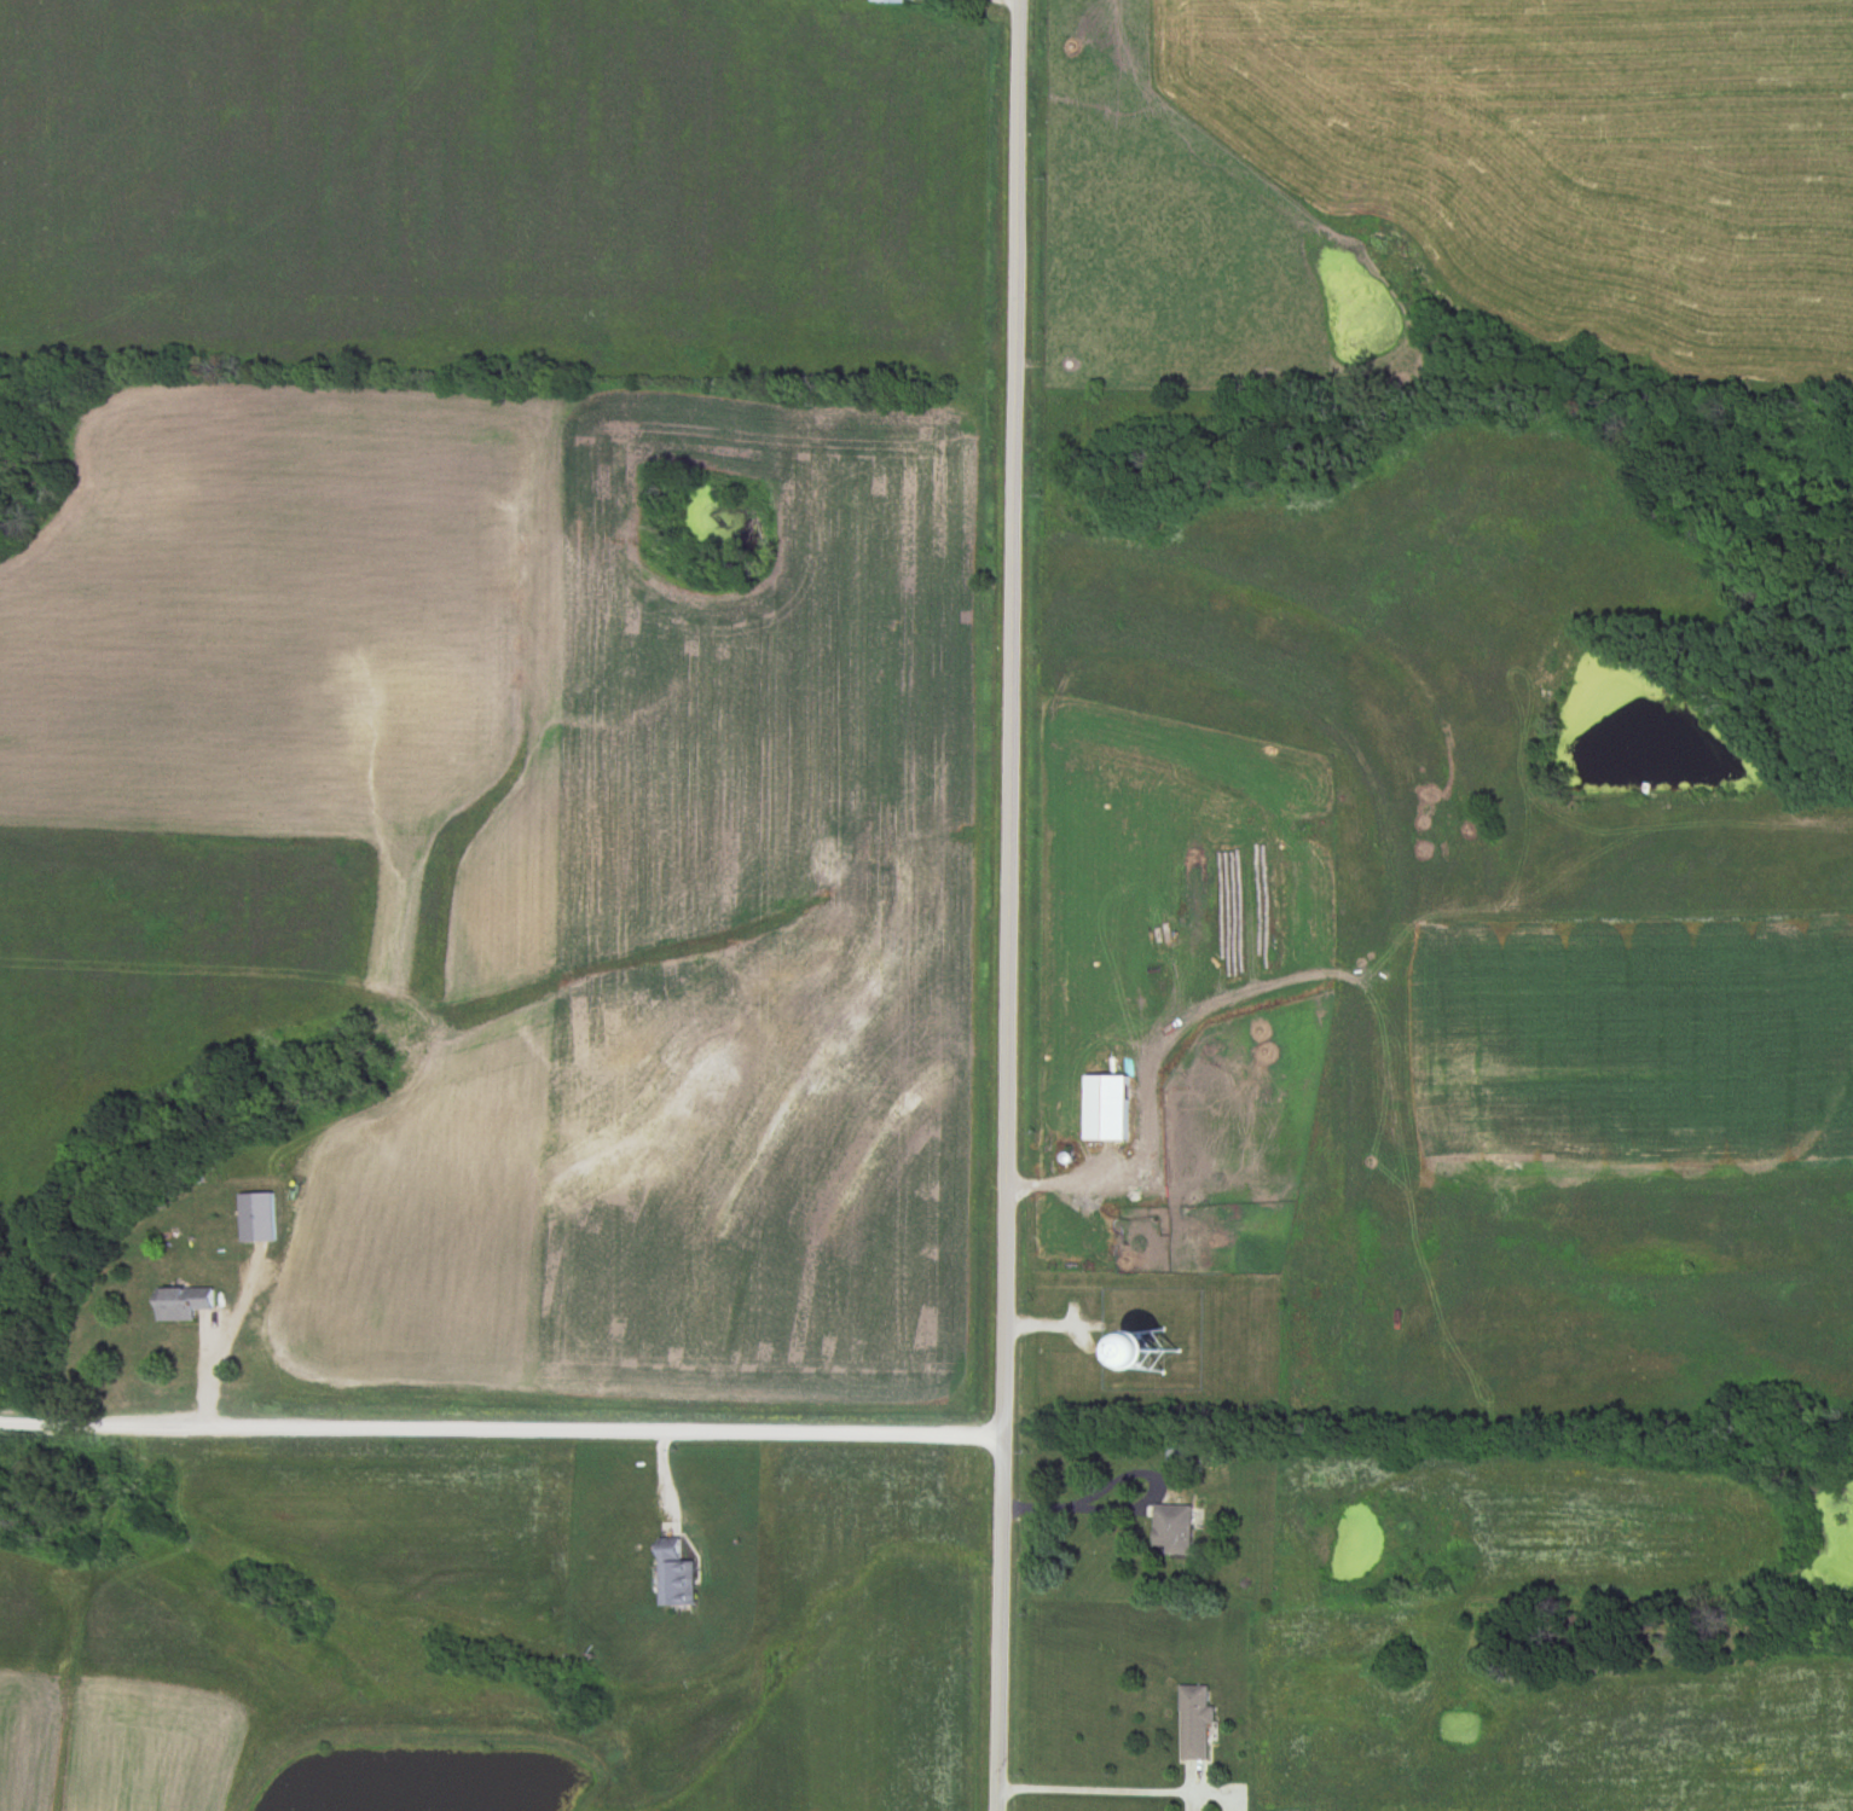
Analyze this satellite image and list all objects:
building: (888, 1)
road: (1011, 905)
building: (257, 1218)
building: (183, 1304)
road: (503, 1435)
building: (1180, 1462)
building: (1174, 1530)
building: (674, 1575)
building: (1197, 1723)
road: (1102, 1788)

